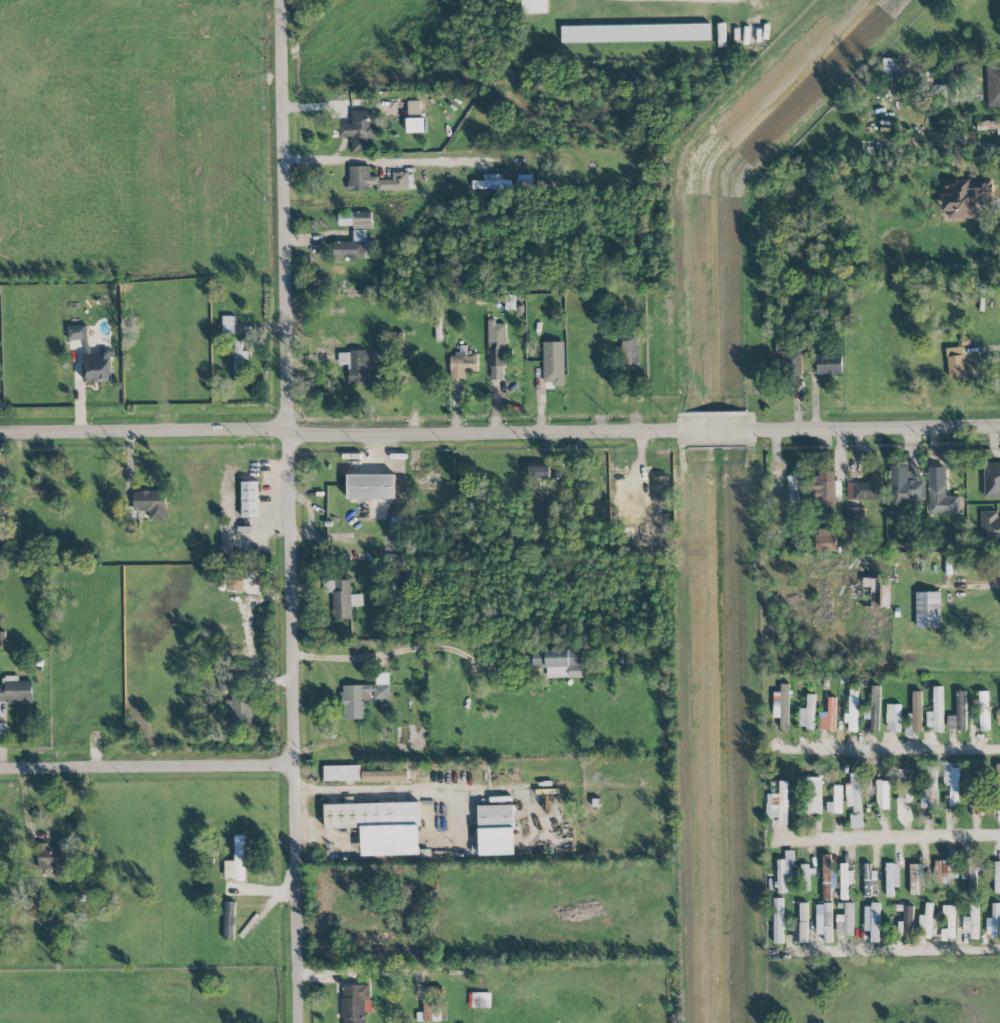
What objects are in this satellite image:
building: (534, 6)
building: (635, 33)
building: (889, 68)
building: (993, 87)
building: (416, 126)
building: (989, 126)
building: (360, 130)
road: (385, 165)
building: (375, 181)
building: (491, 183)
building: (963, 198)
building: (354, 219)
building: (353, 247)
building: (228, 325)
building: (496, 351)
building: (92, 357)
building: (239, 361)
building: (955, 362)
building: (553, 363)
building: (790, 364)
building: (354, 365)
building: (829, 365)
building: (462, 366)
road: (880, 430)
road: (717, 432)
road: (337, 438)
building: (538, 472)
building: (992, 480)
building: (371, 487)
building: (826, 489)
building: (866, 489)
building: (904, 490)
building: (661, 493)
building: (939, 493)
building: (792, 494)
building: (249, 500)
building: (149, 504)
road: (292, 511)
building: (854, 515)
building: (132, 527)
building: (990, 527)
building: (825, 540)
building: (957, 567)
road: (978, 585)
building: (875, 592)
building: (342, 598)
building: (928, 610)
road: (388, 650)
building: (557, 663)
building: (224, 681)
building: (15, 690)
building: (363, 696)
building: (781, 706)
building: (239, 709)
building: (874, 710)
building: (936, 711)
building: (984, 711)
building: (807, 713)
building: (852, 713)
building: (915, 714)
building: (958, 714)
building: (828, 716)
building: (893, 718)
building: (998, 718)
road: (890, 748)
road: (147, 769)
building: (341, 773)
building: (384, 776)
building: (951, 784)
building: (904, 786)
building: (931, 786)
building: (998, 786)
road: (404, 789)
building: (853, 793)
building: (882, 794)
building: (812, 796)
building: (835, 801)
building: (777, 804)
building: (856, 821)
building: (379, 826)
building: (496, 830)
road: (323, 832)
road: (886, 834)
building: (53, 859)
building: (236, 861)
building: (784, 871)
building: (946, 871)
building: (971, 872)
building: (869, 876)
building: (826, 877)
building: (915, 877)
building: (891, 878)
building: (845, 881)
building: (803, 912)
building: (229, 920)
building: (778, 921)
building: (845, 921)
building: (872, 921)
building: (907, 921)
building: (994, 921)
building: (926, 922)
building: (948, 923)
building: (971, 923)
building: (799, 932)
road: (892, 950)
building: (479, 1000)
building: (354, 1003)
building: (434, 1005)

